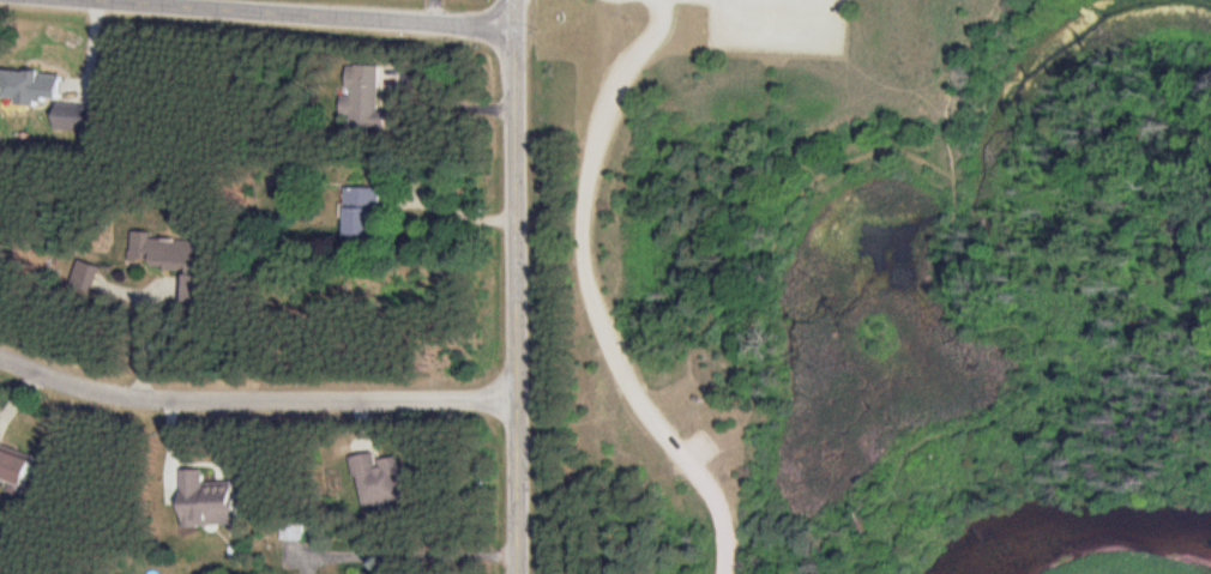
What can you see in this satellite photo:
road: (333, 12)
parking lot: (778, 24)
road: (782, 28)
building: (30, 86)
building: (362, 96)
building: (70, 117)
building: (361, 212)
building: (164, 252)
building: (85, 276)
road: (518, 286)
park: (864, 286)
road: (592, 296)
road: (257, 397)
building: (694, 397)
building: (13, 464)
building: (378, 479)
building: (206, 500)
river: (1093, 538)
road: (414, 555)

